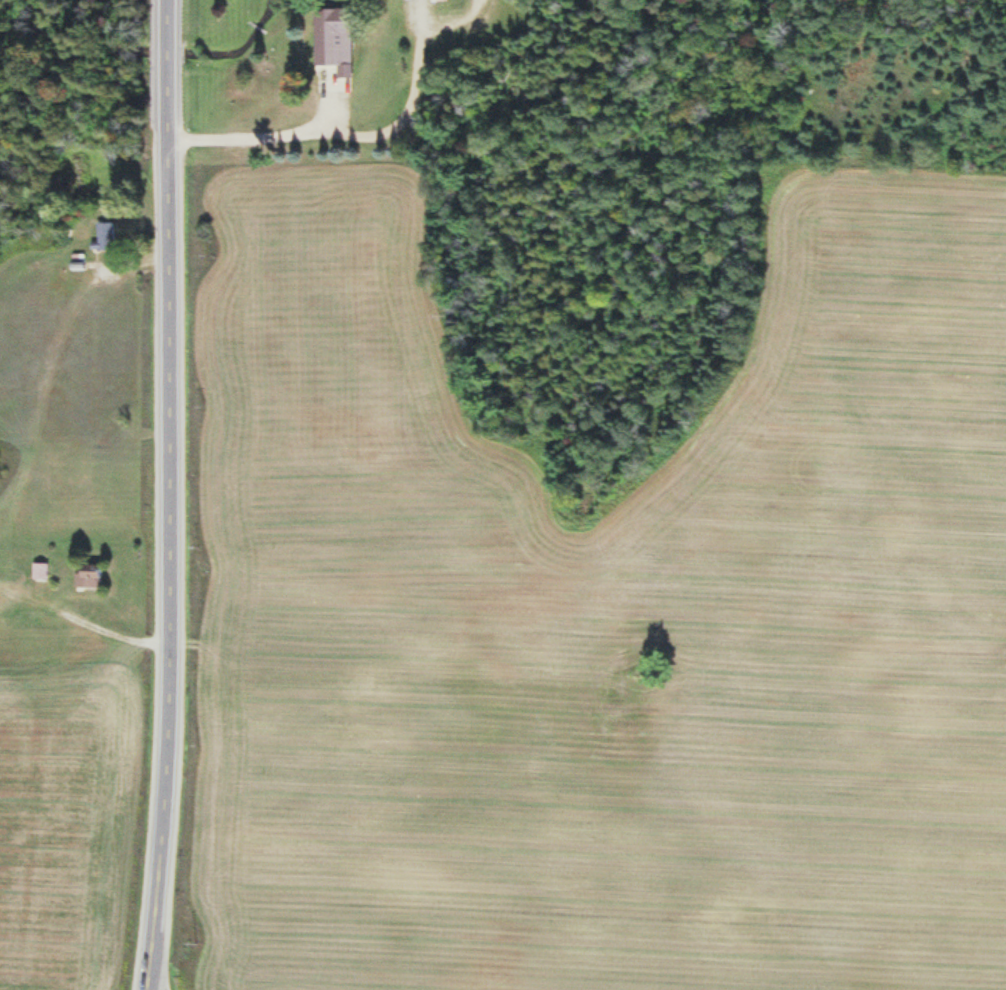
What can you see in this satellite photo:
building: (445, 5)
building: (334, 41)
building: (106, 238)
road: (174, 495)
building: (89, 578)

